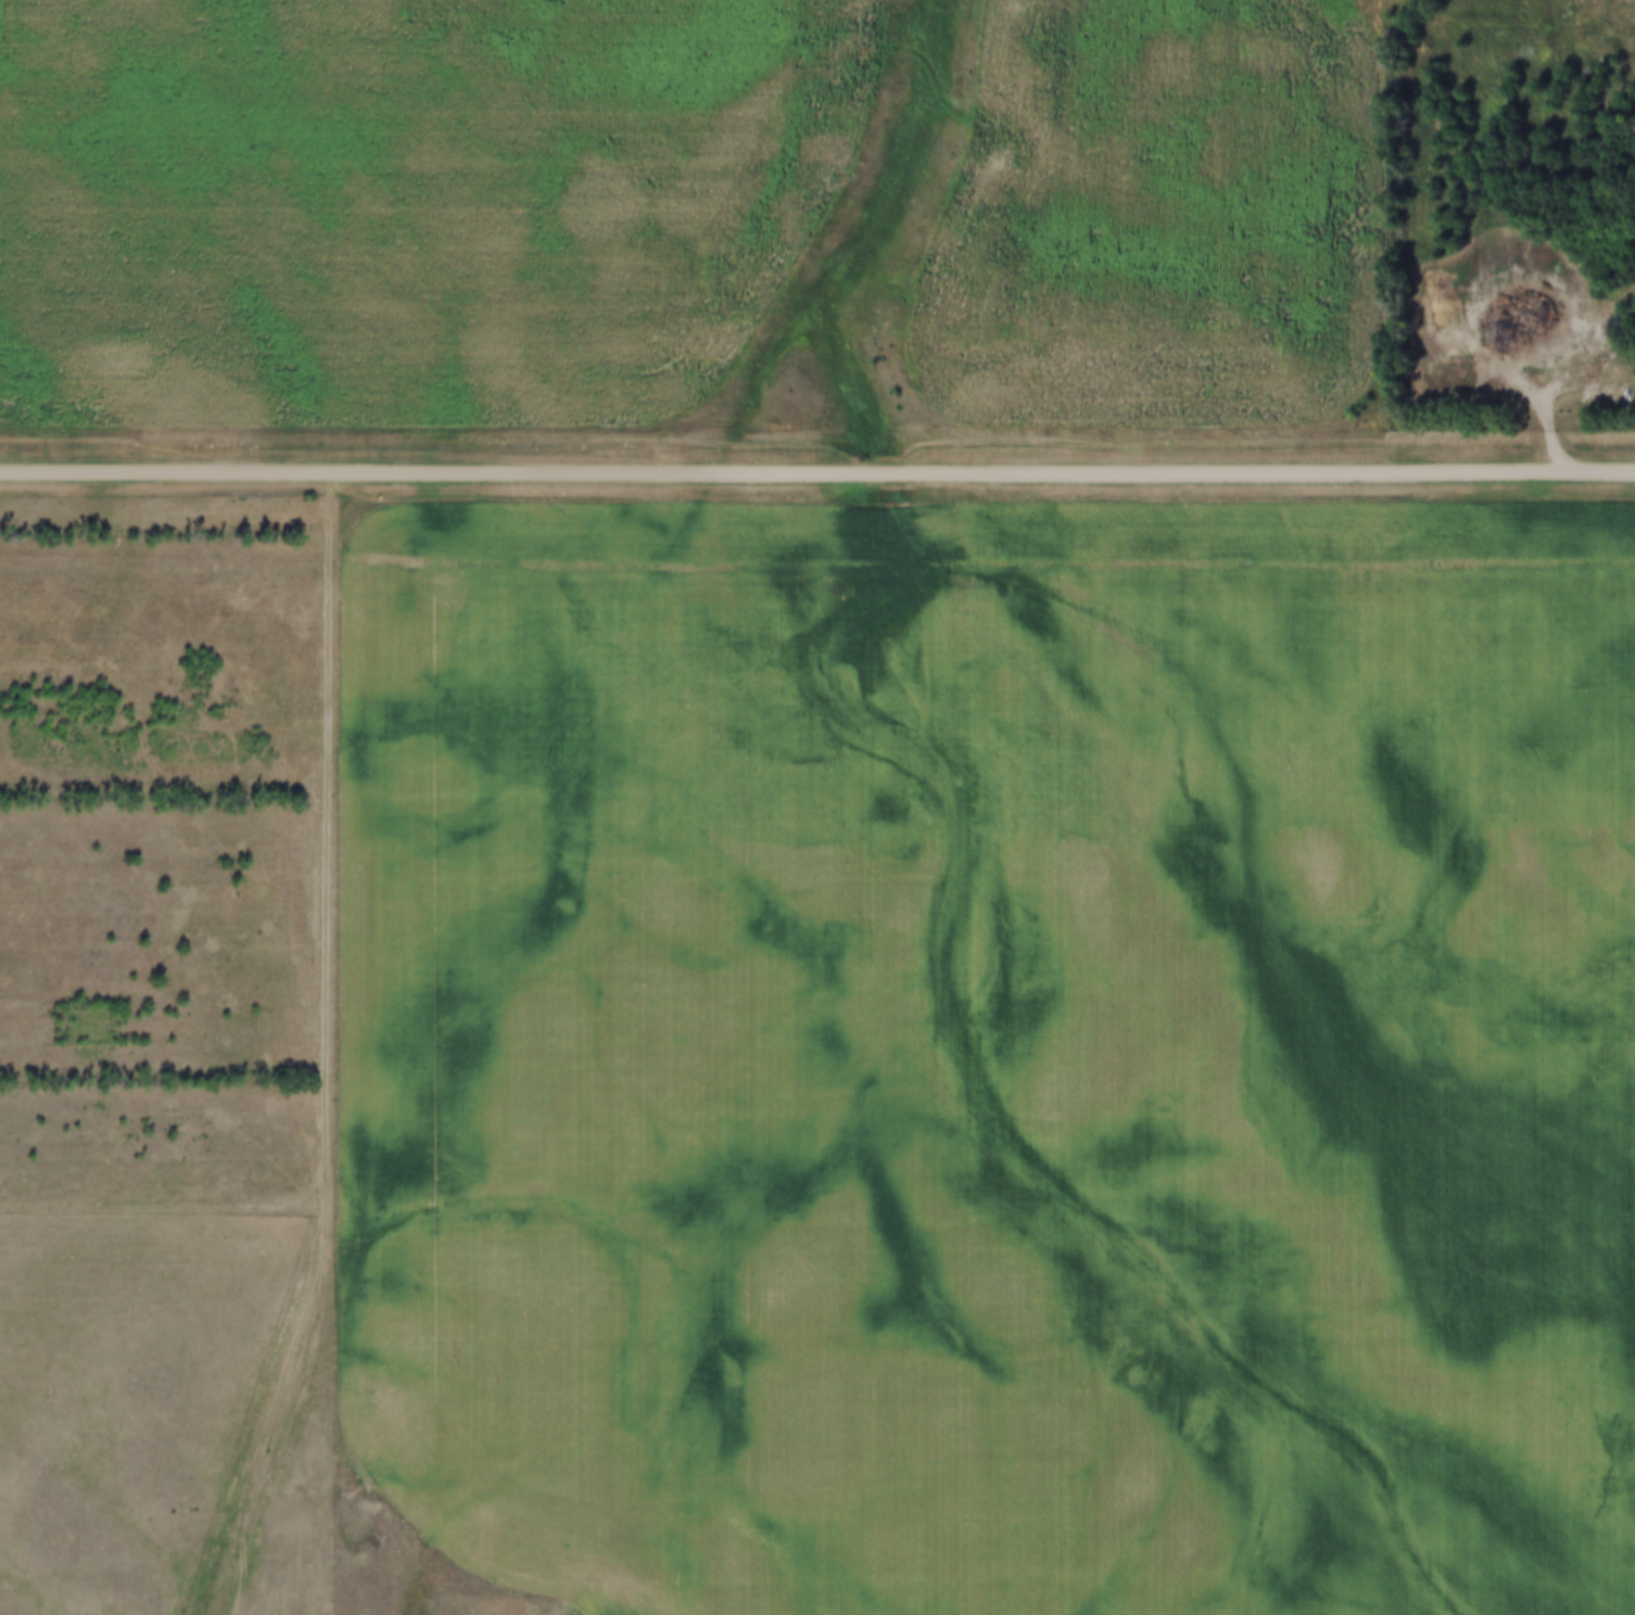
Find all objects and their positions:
crop: (1162, 213)
road: (1567, 367)
road: (817, 478)
building: (859, 1040)
road: (333, 1053)
road: (164, 1208)

